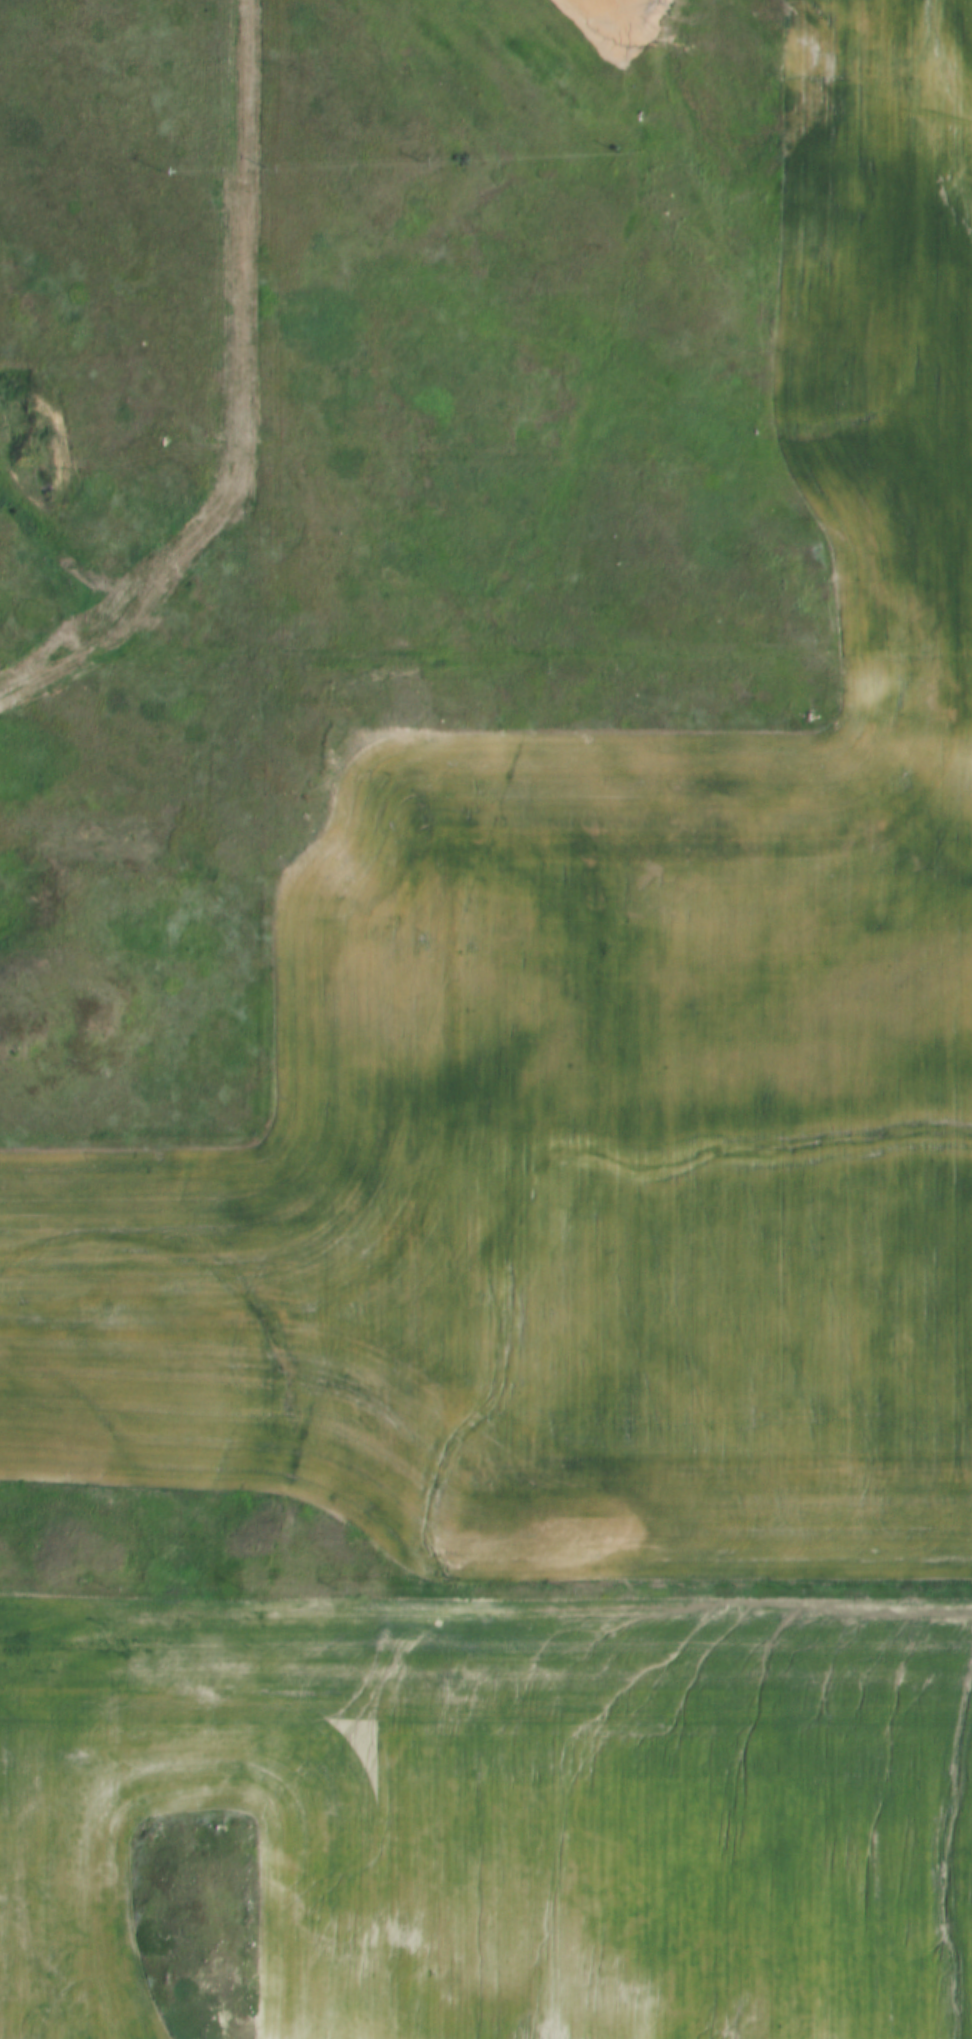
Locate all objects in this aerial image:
road: (633, 25)

